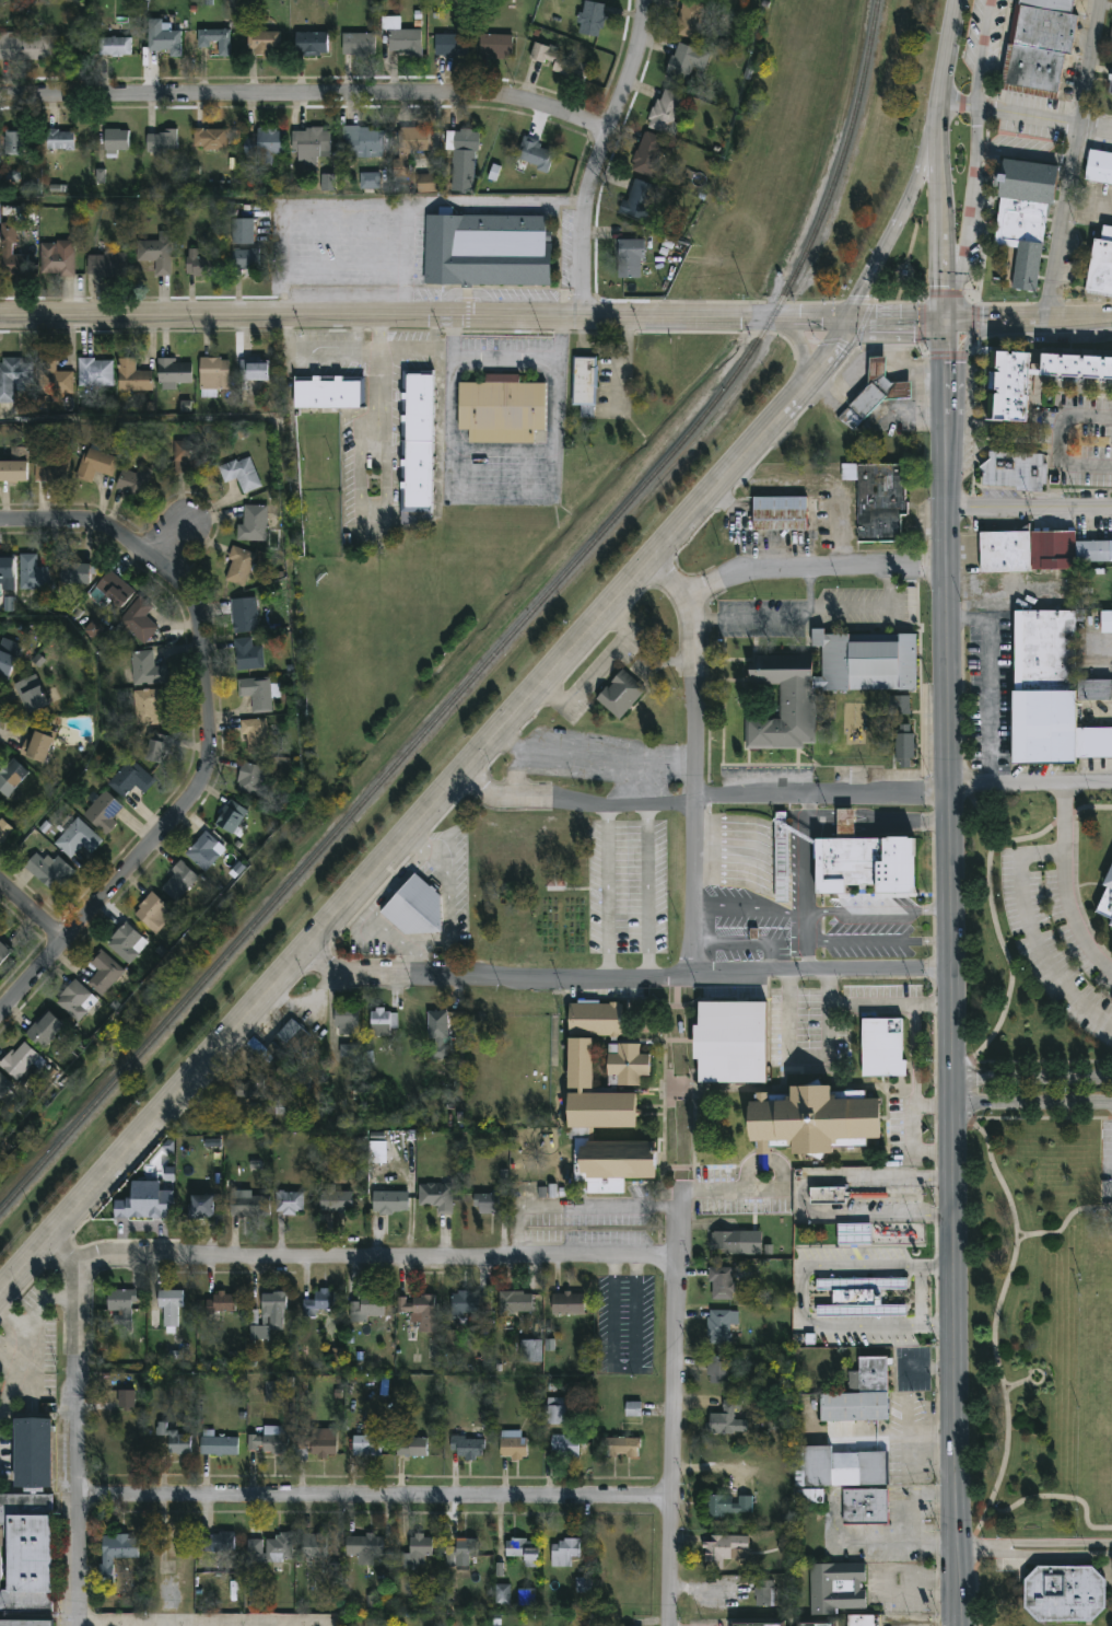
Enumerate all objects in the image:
building: (1050, 5)
building: (590, 19)
building: (690, 20)
building: (1044, 31)
building: (163, 39)
building: (214, 39)
building: (405, 42)
building: (264, 43)
building: (311, 44)
building: (358, 44)
building: (1110, 44)
building: (452, 45)
building: (495, 46)
building: (114, 47)
building: (26, 48)
road: (948, 48)
road: (981, 53)
building: (560, 61)
building: (686, 61)
building: (1034, 70)
building: (1110, 84)
road: (305, 95)
building: (665, 113)
road: (1025, 118)
building: (209, 139)
building: (362, 139)
building: (60, 140)
building: (116, 140)
building: (161, 142)
building: (15, 143)
building: (264, 143)
building: (311, 143)
building: (410, 148)
building: (535, 153)
building: (648, 154)
road: (1025, 156)
road: (595, 159)
building: (464, 161)
road: (1073, 162)
building: (1099, 169)
building: (370, 181)
building: (328, 183)
building: (426, 183)
road: (970, 195)
road: (512, 200)
road: (573, 200)
building: (636, 200)
road: (1090, 204)
road: (941, 210)
road: (294, 212)
road: (902, 212)
building: (1027, 222)
building: (242, 231)
road: (406, 233)
building: (485, 251)
building: (11, 253)
building: (159, 254)
building: (57, 259)
building: (630, 259)
building: (244, 260)
park: (906, 262)
building: (1101, 264)
building: (107, 266)
building: (200, 266)
road: (959, 303)
traffic signals: (848, 321)
road: (1028, 323)
road: (472, 324)
traffic signals: (946, 324)
road: (968, 345)
road: (800, 352)
road: (507, 358)
road: (359, 359)
road: (819, 368)
building: (254, 369)
building: (95, 371)
building: (175, 372)
building: (213, 373)
building: (14, 375)
building: (133, 375)
building: (56, 379)
building: (585, 381)
building: (330, 392)
road: (378, 392)
building: (875, 393)
building: (1009, 399)
building: (503, 410)
road: (1056, 443)
building: (419, 449)
building: (189, 455)
building: (97, 464)
building: (52, 468)
building: (14, 471)
building: (1012, 471)
road: (280, 472)
building: (242, 473)
building: (134, 479)
building: (879, 502)
road: (1029, 508)
building: (779, 515)
building: (254, 523)
road: (172, 539)
building: (1038, 550)
building: (239, 566)
building: (7, 567)
building: (33, 572)
road: (789, 572)
building: (74, 573)
road: (888, 585)
building: (115, 589)
road: (830, 606)
building: (245, 614)
building: (139, 618)
road: (752, 619)
building: (1105, 623)
building: (93, 629)
railway: (502, 641)
building: (248, 653)
road: (1099, 660)
building: (5, 662)
building: (866, 662)
building: (147, 667)
road: (987, 687)
building: (257, 690)
building: (32, 692)
building: (1051, 692)
building: (620, 696)
building: (784, 704)
building: (149, 705)
building: (897, 706)
road: (98, 721)
road: (213, 735)
building: (255, 735)
building: (37, 743)
building: (159, 746)
building: (904, 746)
building: (11, 775)
building: (131, 777)
building: (253, 778)
road: (697, 788)
road: (1031, 791)
road: (705, 803)
building: (0, 805)
building: (104, 810)
building: (231, 815)
road: (807, 816)
road: (821, 821)
road: (845, 821)
road: (902, 823)
building: (4, 828)
building: (78, 837)
road: (419, 838)
building: (203, 849)
road: (393, 857)
road: (734, 859)
building: (863, 860)
building: (782, 867)
building: (58, 868)
road: (782, 871)
road: (797, 875)
building: (180, 882)
road: (1067, 886)
road: (805, 887)
road: (647, 892)
road: (608, 893)
building: (1107, 899)
building: (417, 905)
road: (447, 906)
building: (154, 910)
road: (879, 910)
road: (34, 911)
road: (748, 913)
parking lot: (871, 929)
road: (1032, 934)
parking lot: (758, 940)
building: (127, 941)
road: (739, 942)
road: (879, 942)
parking lot: (1053, 942)
building: (3, 950)
road: (808, 955)
road: (413, 965)
building: (104, 971)
road: (951, 974)
road: (629, 977)
road: (829, 986)
building: (75, 998)
road: (874, 1003)
road: (933, 1003)
road: (0, 1017)
building: (346, 1022)
building: (382, 1023)
building: (45, 1029)
building: (437, 1035)
building: (729, 1043)
building: (285, 1044)
building: (882, 1048)
building: (350, 1050)
building: (22, 1060)
building: (625, 1064)
building: (580, 1065)
road: (1031, 1079)
road: (679, 1082)
building: (4, 1083)
building: (249, 1088)
road: (1032, 1099)
road: (934, 1107)
building: (813, 1120)
building: (580, 1141)
building: (614, 1162)
parking lot: (1107, 1163)
road: (993, 1170)
road: (715, 1189)
building: (827, 1196)
building: (436, 1197)
road: (806, 1197)
building: (336, 1203)
building: (289, 1204)
building: (389, 1204)
building: (157, 1205)
building: (248, 1205)
building: (488, 1205)
road: (576, 1205)
building: (201, 1207)
road: (1063, 1223)
building: (854, 1234)
building: (725, 1243)
road: (376, 1255)
building: (722, 1285)
road: (804, 1297)
parking lot: (805, 1299)
building: (859, 1299)
building: (223, 1303)
building: (318, 1303)
building: (471, 1303)
building: (516, 1304)
road: (36, 1305)
building: (569, 1305)
building: (119, 1308)
building: (169, 1308)
building: (366, 1310)
building: (420, 1312)
building: (267, 1314)
building: (719, 1327)
park: (1044, 1332)
building: (530, 1351)
road: (14, 1363)
road: (623, 1369)
building: (717, 1371)
parking lot: (912, 1371)
road: (1035, 1371)
road: (1022, 1382)
road: (1007, 1383)
road: (1009, 1389)
building: (273, 1393)
building: (859, 1395)
building: (127, 1399)
road: (672, 1407)
building: (633, 1409)
building: (558, 1410)
building: (726, 1421)
road: (82, 1429)
building: (839, 1430)
building: (303, 1440)
building: (177, 1443)
building: (269, 1443)
building: (323, 1443)
building: (512, 1445)
building: (366, 1447)
building: (565, 1447)
building: (219, 1448)
building: (411, 1448)
building: (620, 1448)
building: (468, 1449)
building: (843, 1468)
building: (809, 1496)
road: (1057, 1497)
road: (911, 1499)
road: (377, 1502)
building: (730, 1507)
building: (865, 1508)
building: (27, 1530)
road: (894, 1542)
building: (219, 1544)
building: (783, 1546)
building: (314, 1547)
building: (364, 1548)
building: (466, 1548)
road: (1033, 1548)
road: (974, 1549)
building: (270, 1550)
building: (419, 1552)
building: (523, 1552)
building: (564, 1553)
building: (726, 1553)
building: (115, 1554)
building: (583, 1586)
road: (923, 1587)
building: (838, 1589)
building: (1064, 1592)
building: (764, 1593)
building: (503, 1594)
road: (975, 1595)
building: (861, 1621)
road: (202, 1622)
road: (104, 1624)
building: (757, 1625)
building: (816, 1625)

